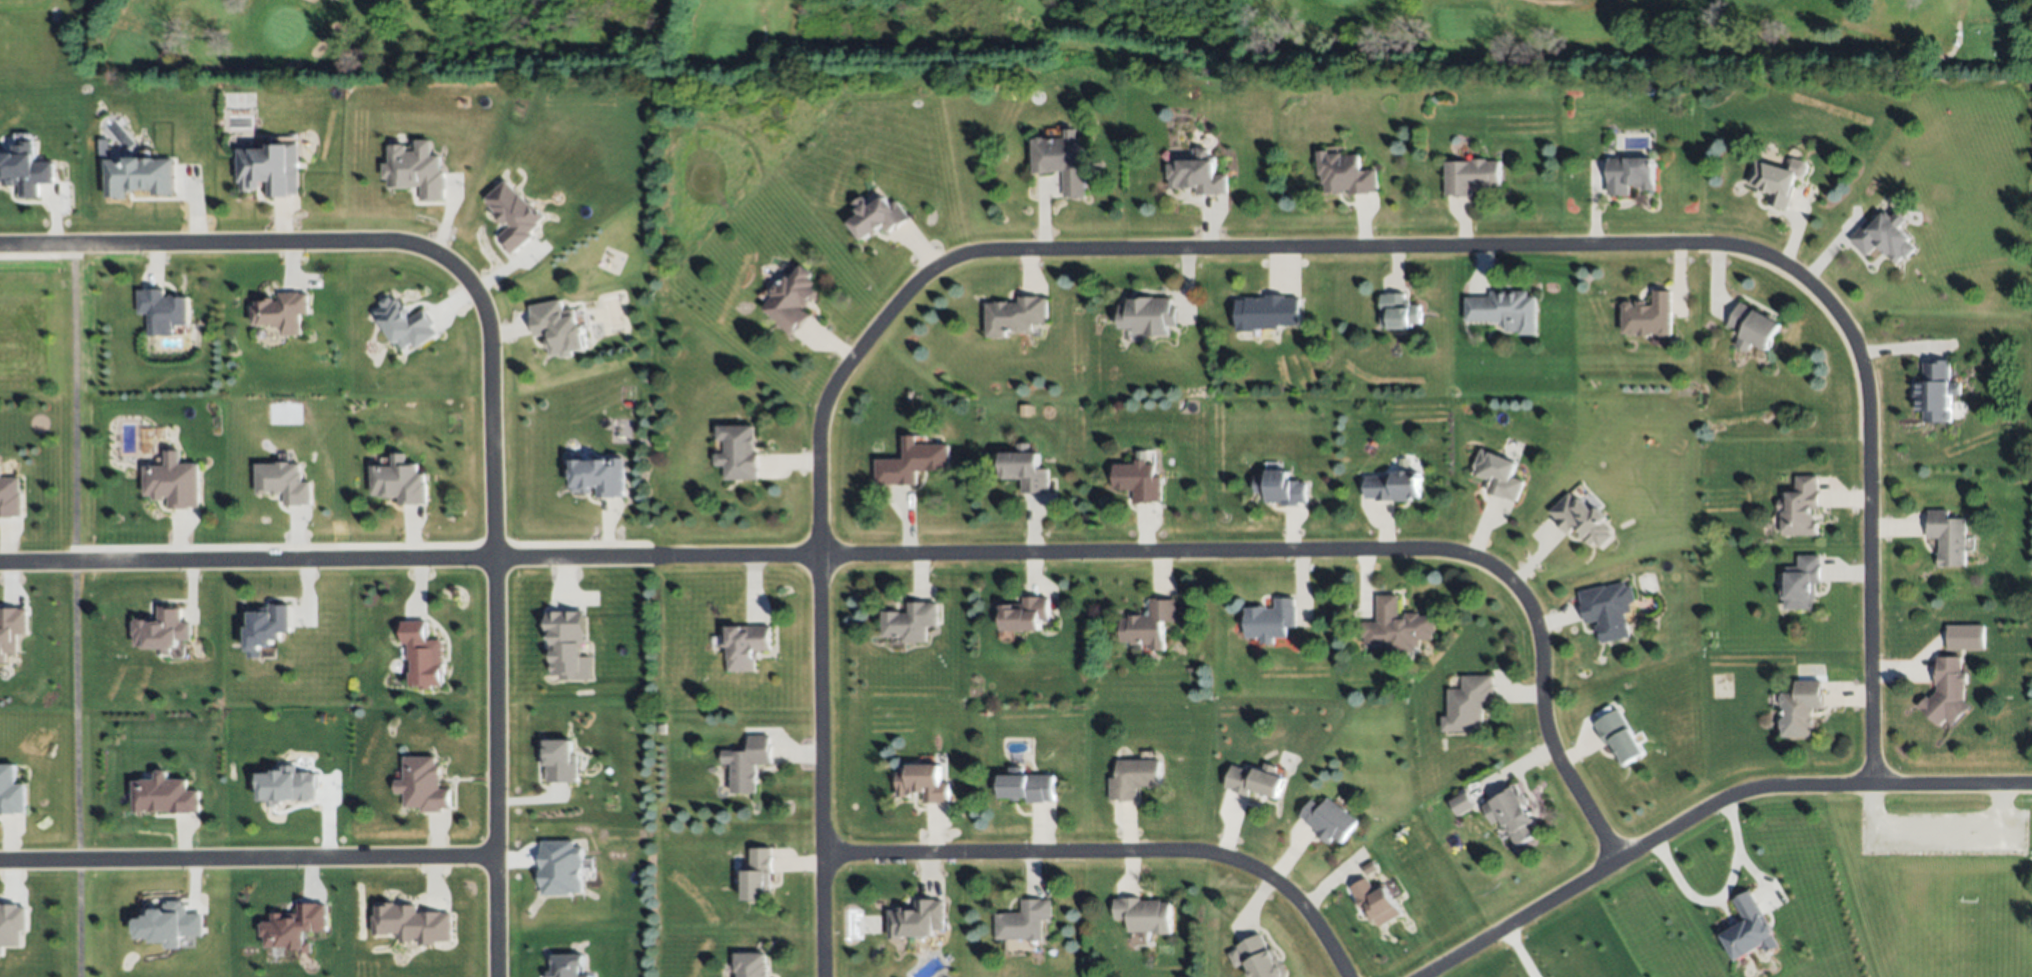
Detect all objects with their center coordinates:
road: (1552, 2)
park: (1008, 37)
road: (1953, 47)
road: (770, 60)
road: (190, 69)
building: (1063, 160)
building: (275, 167)
building: (25, 171)
building: (416, 171)
building: (1345, 173)
building: (1197, 174)
building: (1630, 174)
building: (142, 176)
building: (1471, 176)
building: (1775, 181)
building: (513, 215)
building: (878, 216)
building: (1884, 236)
road: (378, 244)
road: (1656, 244)
building: (793, 301)
building: (1504, 310)
building: (1398, 311)
building: (164, 312)
building: (1267, 312)
building: (284, 313)
building: (1014, 315)
building: (1147, 315)
building: (1650, 315)
building: (407, 325)
building: (560, 327)
building: (1754, 327)
building: (1936, 391)
building: (738, 452)
building: (913, 461)
building: (1025, 471)
building: (1498, 472)
building: (599, 478)
building: (1138, 481)
building: (401, 482)
building: (174, 483)
building: (285, 483)
building: (1393, 486)
building: (1281, 488)
building: (10, 497)
building: (1800, 508)
building: (1582, 520)
building: (1947, 537)
road: (909, 555)
road: (818, 577)
building: (1803, 582)
building: (1608, 610)
road: (73, 613)
building: (1025, 613)
building: (1271, 620)
building: (911, 621)
building: (1148, 624)
building: (267, 627)
building: (1398, 627)
building: (11, 630)
building: (163, 632)
building: (1966, 636)
building: (748, 645)
building: (567, 647)
building: (422, 657)
building: (1947, 692)
building: (1470, 705)
building: (1800, 708)
building: (1619, 736)
building: (558, 762)
building: (748, 763)
road: (490, 767)
building: (1133, 778)
building: (1254, 780)
building: (423, 783)
building: (922, 784)
building: (287, 786)
building: (1028, 787)
building: (11, 792)
building: (165, 796)
building: (1462, 803)
road: (1704, 809)
building: (1511, 814)
building: (1328, 820)
road: (1934, 828)
road: (1109, 852)
road: (244, 860)
building: (1370, 867)
building: (561, 869)
building: (759, 876)
road: (1721, 896)
building: (1376, 902)
building: (1143, 915)
building: (919, 919)
building: (1023, 920)
building: (412, 924)
building: (169, 925)
building: (12, 926)
building: (1751, 926)
building: (294, 928)
road: (1519, 951)
building: (1261, 958)
building: (751, 964)
building: (567, 966)

